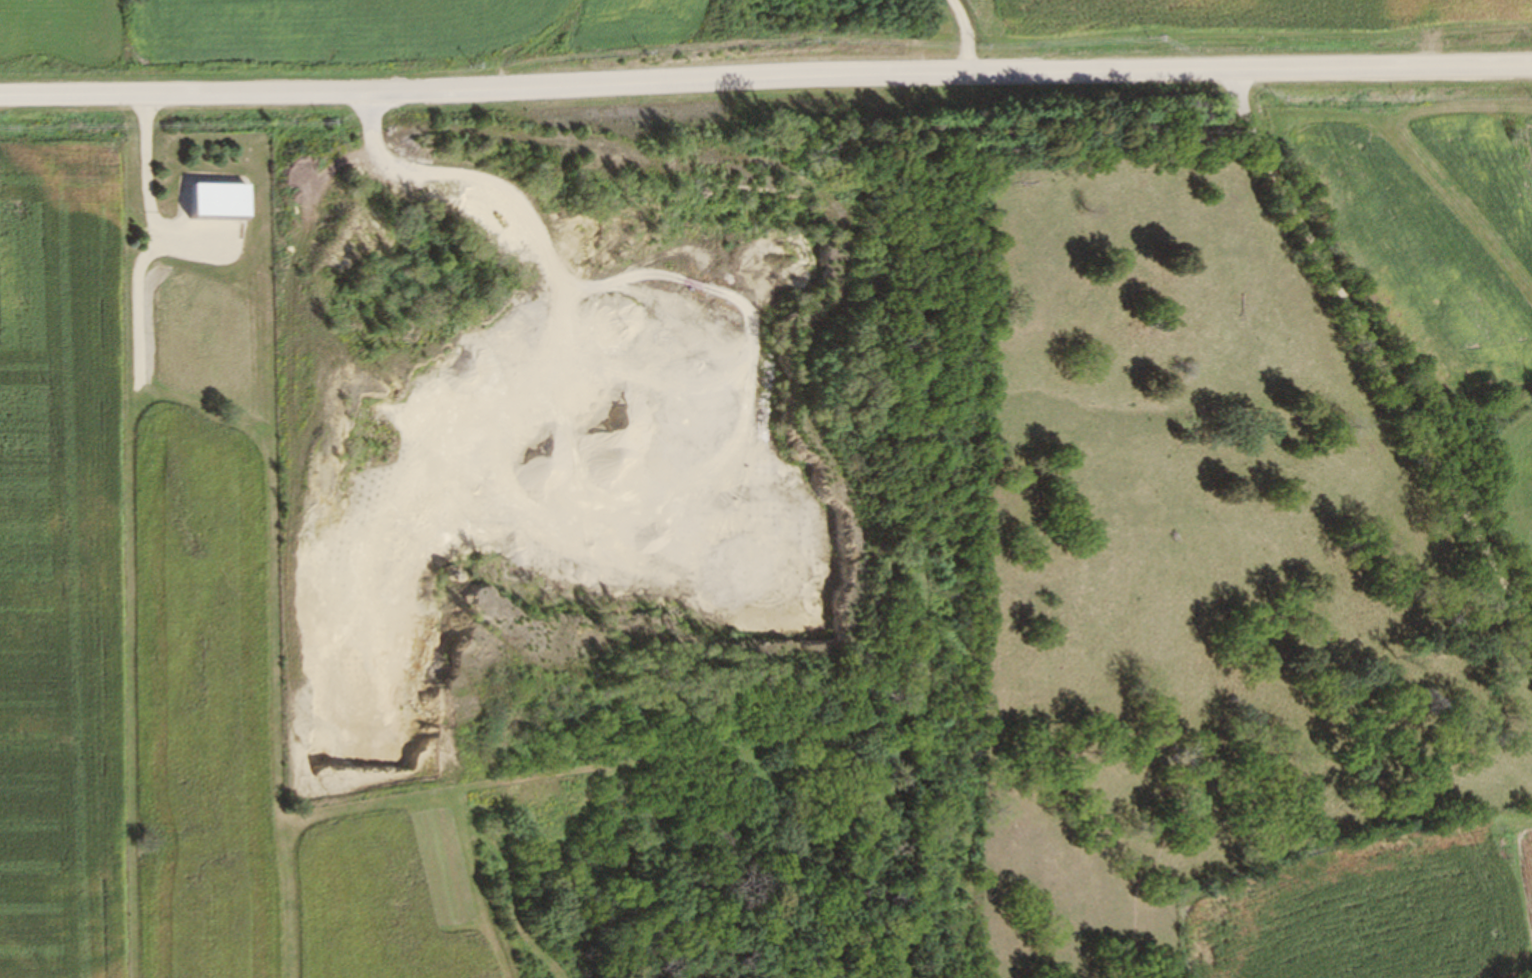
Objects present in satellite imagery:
road: (528, 41)
road: (766, 83)
road: (1377, 346)

